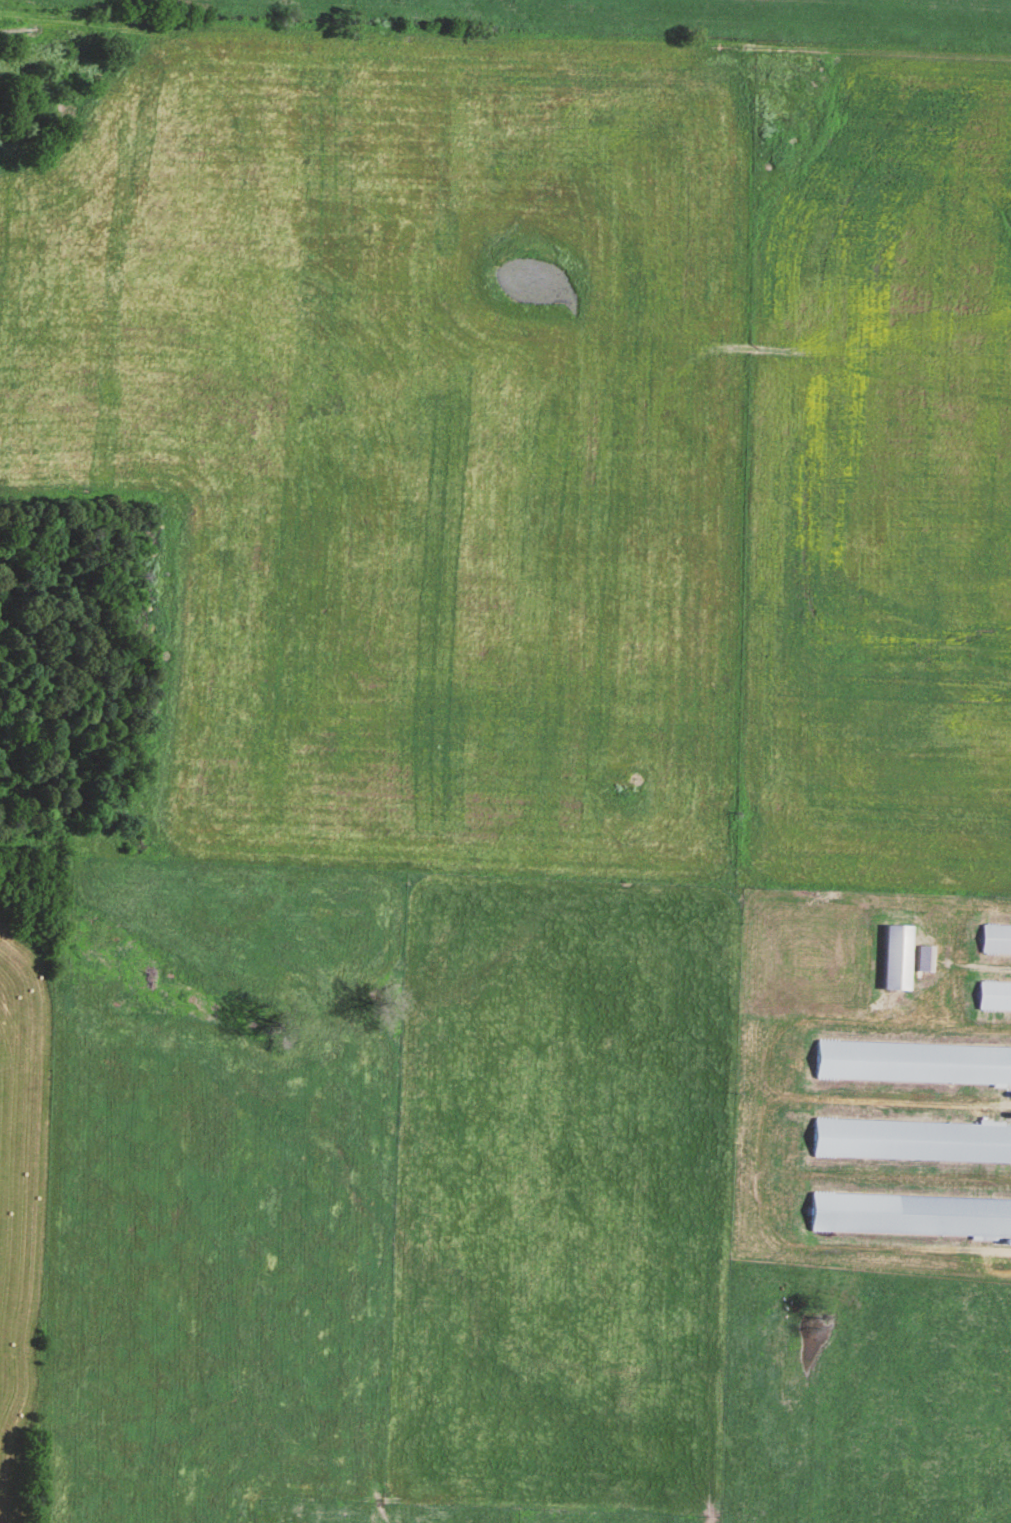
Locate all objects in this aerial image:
building: (995, 942)
building: (924, 961)
building: (994, 998)
building: (913, 1066)
building: (911, 1144)
road: (759, 1171)

